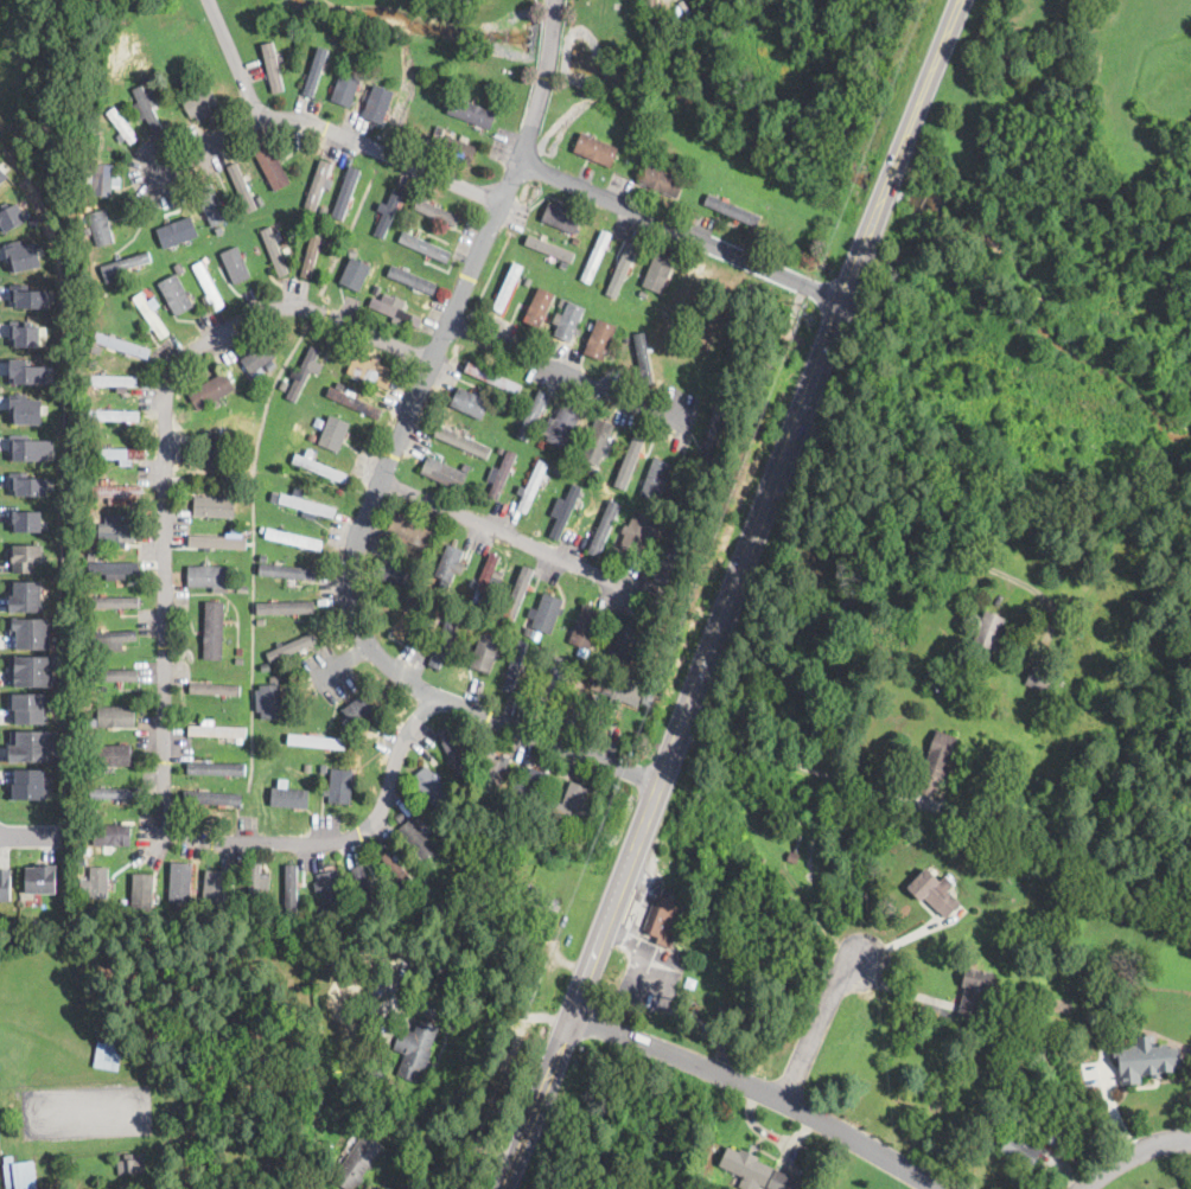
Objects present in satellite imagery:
building: (312, 55)
road: (235, 58)
building: (273, 69)
building: (317, 70)
building: (355, 71)
building: (145, 81)
building: (386, 83)
building: (184, 87)
building: (346, 89)
building: (199, 102)
building: (378, 103)
building: (147, 108)
building: (471, 113)
building: (122, 126)
road: (327, 129)
building: (439, 132)
building: (593, 149)
building: (458, 151)
building: (642, 154)
building: (272, 166)
building: (2, 175)
building: (102, 180)
building: (662, 180)
building: (317, 185)
building: (242, 187)
building: (285, 190)
building: (346, 192)
building: (260, 202)
building: (211, 203)
building: (324, 209)
building: (732, 210)
building: (434, 211)
building: (389, 213)
building: (9, 215)
building: (562, 218)
building: (101, 226)
building: (416, 229)
building: (219, 230)
building: (178, 231)
road: (681, 231)
building: (389, 236)
building: (575, 239)
building: (425, 245)
building: (186, 248)
building: (549, 248)
building: (286, 251)
building: (274, 252)
building: (21, 254)
building: (311, 254)
building: (595, 257)
building: (135, 258)
building: (206, 258)
building: (236, 263)
building: (628, 264)
building: (179, 267)
building: (658, 270)
building: (359, 271)
building: (128, 276)
building: (410, 280)
building: (157, 285)
building: (209, 286)
building: (508, 287)
building: (377, 290)
building: (650, 290)
building: (30, 296)
building: (178, 299)
building: (562, 302)
building: (540, 306)
building: (395, 309)
building: (151, 315)
building: (568, 320)
building: (25, 334)
building: (601, 338)
building: (626, 340)
building: (121, 345)
building: (259, 358)
building: (643, 358)
building: (346, 362)
building: (263, 369)
road: (556, 369)
building: (27, 370)
building: (370, 371)
building: (302, 373)
building: (492, 378)
building: (113, 381)
building: (339, 384)
building: (211, 390)
park: (1059, 395)
building: (709, 397)
building: (354, 401)
building: (471, 402)
building: (26, 407)
building: (533, 414)
building: (115, 415)
building: (549, 424)
building: (563, 426)
building: (335, 434)
building: (311, 437)
building: (464, 440)
building: (597, 441)
building: (711, 445)
building: (31, 449)
building: (217, 450)
building: (501, 450)
building: (120, 454)
building: (631, 460)
building: (320, 468)
building: (234, 471)
building: (445, 471)
road: (383, 472)
building: (593, 472)
building: (558, 473)
building: (501, 474)
building: (657, 478)
building: (612, 480)
building: (28, 484)
building: (531, 487)
building: (116, 492)
building: (242, 492)
building: (275, 494)
building: (307, 505)
building: (214, 507)
building: (565, 510)
building: (26, 520)
building: (603, 525)
building: (93, 526)
building: (262, 528)
building: (116, 530)
building: (637, 531)
building: (409, 532)
road: (504, 532)
building: (670, 533)
building: (294, 539)
building: (218, 541)
road: (936, 543)
building: (26, 556)
building: (263, 556)
building: (91, 557)
building: (451, 560)
building: (670, 564)
building: (114, 569)
building: (288, 569)
building: (393, 573)
building: (209, 574)
building: (485, 578)
building: (457, 586)
building: (243, 587)
building: (649, 589)
building: (26, 594)
road: (732, 594)
building: (518, 595)
building: (113, 600)
building: (285, 606)
building: (95, 614)
building: (547, 614)
building: (438, 616)
building: (492, 616)
building: (406, 622)
building: (585, 626)
road: (167, 629)
building: (214, 629)
building: (989, 631)
building: (31, 632)
building: (528, 632)
building: (114, 637)
building: (445, 638)
building: (624, 638)
building: (268, 645)
building: (291, 646)
building: (534, 647)
building: (541, 650)
building: (240, 651)
building: (480, 653)
building: (266, 665)
building: (515, 665)
building: (33, 669)
building: (112, 676)
building: (1039, 678)
building: (555, 679)
building: (217, 688)
building: (618, 692)
building: (648, 698)
building: (270, 702)
building: (28, 705)
building: (365, 708)
building: (114, 716)
building: (206, 721)
building: (598, 723)
building: (217, 731)
building: (317, 742)
building: (32, 744)
building: (452, 748)
building: (297, 752)
building: (113, 755)
road: (794, 761)
building: (936, 763)
building: (308, 767)
building: (324, 767)
building: (215, 768)
building: (493, 773)
building: (282, 782)
building: (30, 784)
building: (340, 786)
building: (431, 786)
building: (533, 787)
building: (115, 793)
building: (212, 798)
building: (291, 799)
building: (571, 804)
building: (546, 814)
building: (400, 817)
road: (31, 836)
building: (112, 836)
building: (416, 839)
building: (87, 851)
building: (791, 857)
building: (82, 862)
building: (397, 870)
building: (42, 877)
building: (180, 881)
building: (98, 882)
building: (6, 883)
building: (215, 888)
building: (255, 888)
building: (291, 889)
building: (331, 890)
building: (364, 890)
building: (934, 893)
building: (136, 899)
building: (539, 900)
building: (509, 904)
building: (343, 915)
building: (663, 919)
building: (396, 922)
building: (375, 986)
building: (974, 992)
road: (491, 1014)
road: (820, 1028)
building: (418, 1050)
building: (108, 1056)
building: (1146, 1059)
road: (760, 1092)
building: (1026, 1145)
road: (1134, 1153)
building: (358, 1161)
building: (130, 1165)
building: (747, 1169)
building: (20, 1174)
building: (297, 1184)

